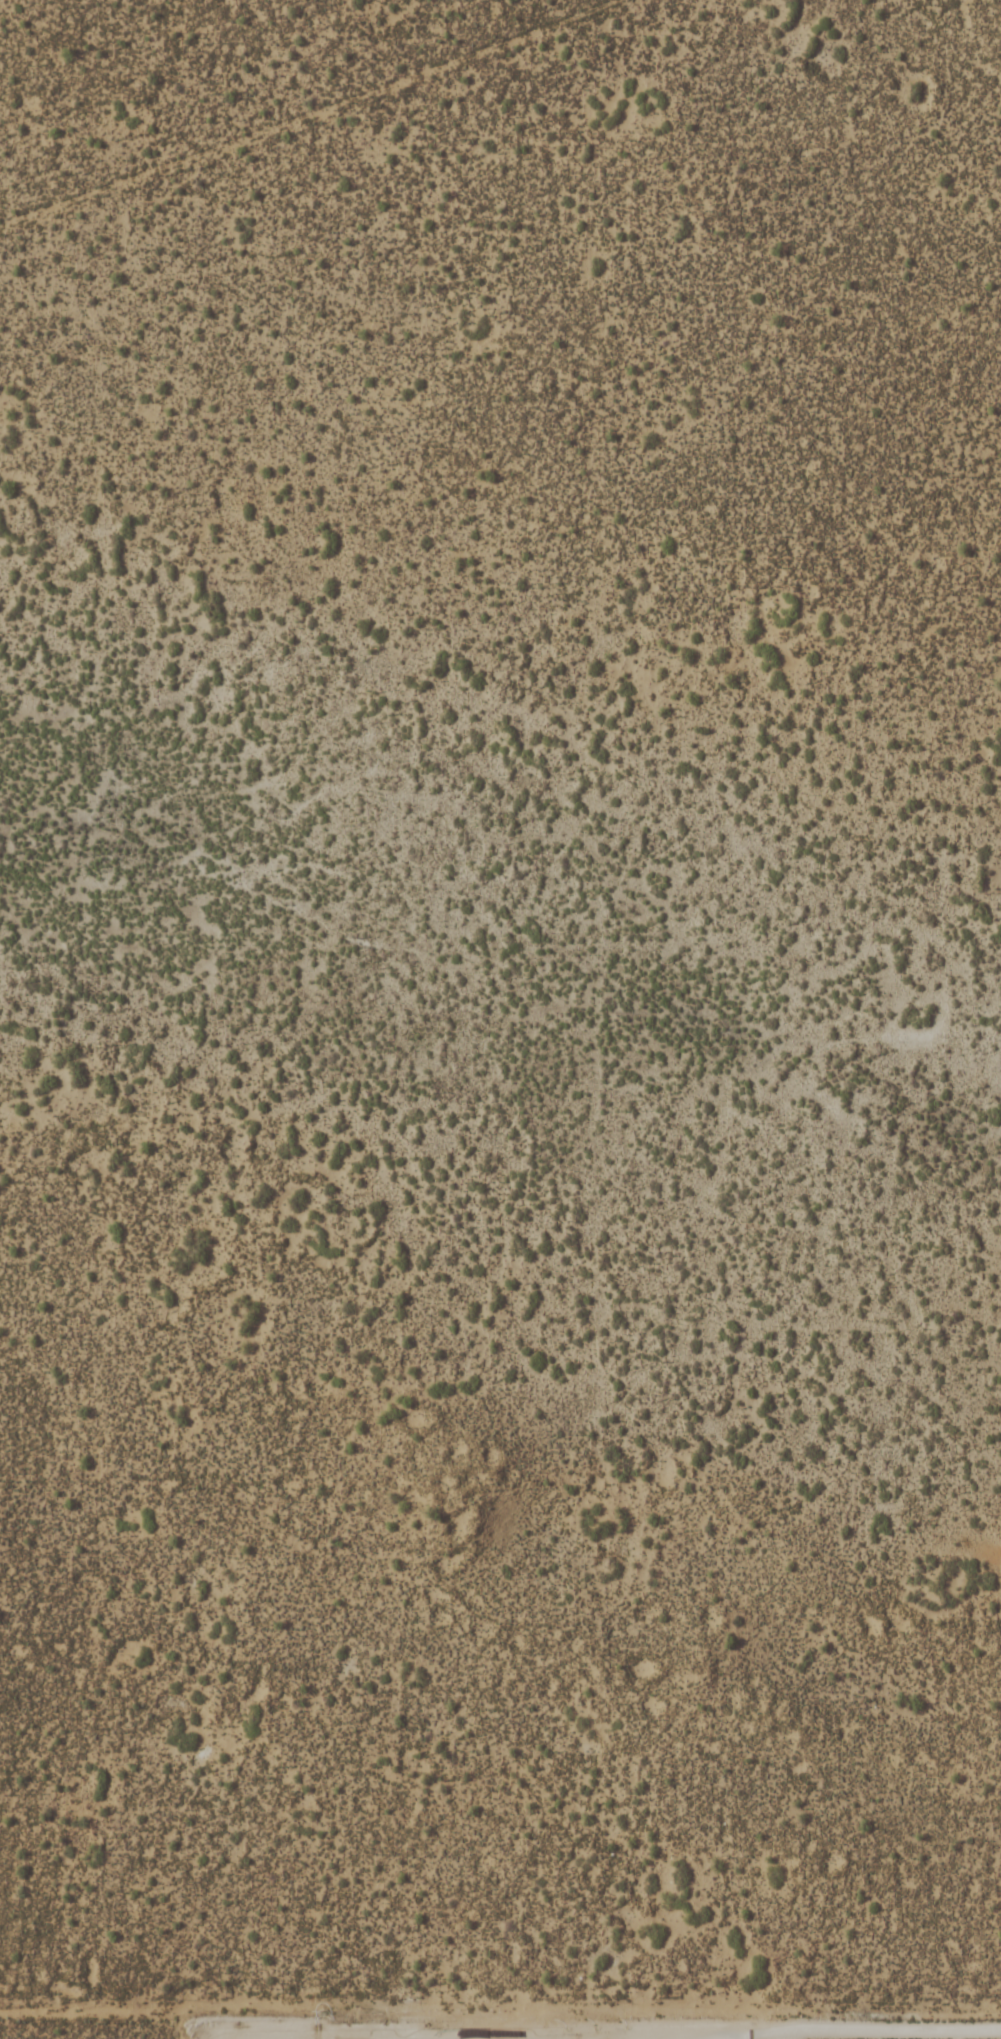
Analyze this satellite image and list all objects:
road: (840, 2026)

